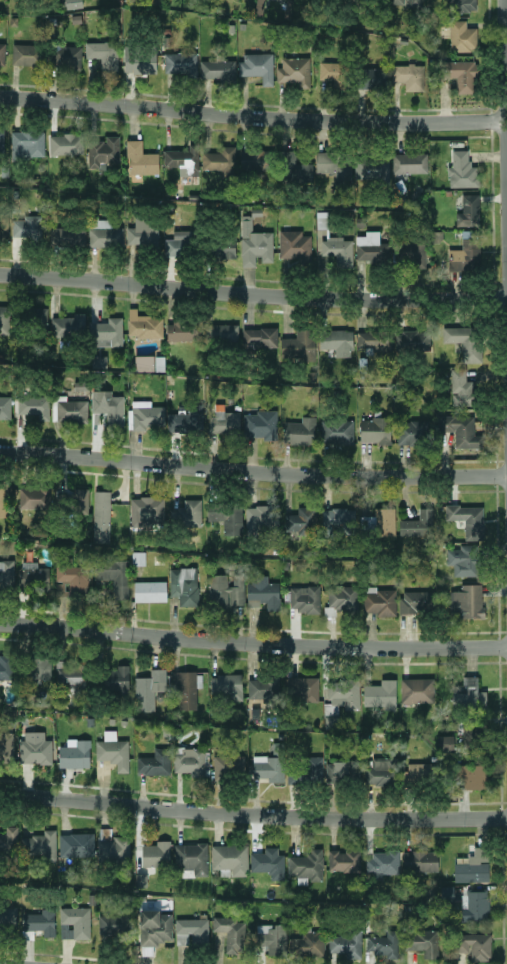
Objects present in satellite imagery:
building: (73, 3)
building: (407, 3)
building: (463, 5)
building: (259, 6)
building: (462, 36)
building: (2, 53)
building: (103, 53)
building: (26, 54)
building: (65, 56)
building: (139, 59)
building: (181, 63)
building: (258, 66)
building: (217, 68)
building: (293, 71)
building: (334, 73)
building: (458, 73)
building: (409, 76)
building: (372, 78)
road: (251, 116)
building: (1, 140)
building: (27, 143)
building: (66, 143)
road: (504, 150)
building: (103, 151)
building: (141, 159)
building: (255, 159)
building: (220, 160)
building: (184, 162)
building: (410, 162)
building: (294, 167)
building: (334, 167)
building: (372, 168)
building: (462, 170)
building: (468, 210)
building: (3, 221)
building: (26, 226)
building: (143, 230)
building: (103, 232)
building: (67, 236)
building: (255, 244)
building: (294, 244)
building: (371, 246)
building: (176, 247)
building: (223, 247)
building: (338, 250)
building: (410, 252)
building: (465, 255)
road: (253, 293)
building: (4, 319)
building: (34, 319)
building: (144, 325)
building: (69, 326)
building: (182, 331)
building: (108, 332)
building: (221, 334)
building: (260, 337)
building: (373, 340)
building: (412, 340)
building: (337, 341)
building: (465, 341)
building: (299, 345)
building: (149, 362)
building: (461, 388)
building: (5, 406)
building: (34, 406)
building: (108, 406)
building: (71, 409)
building: (145, 415)
building: (224, 420)
building: (186, 422)
building: (260, 424)
building: (375, 430)
building: (462, 430)
building: (300, 431)
building: (337, 431)
building: (411, 431)
road: (253, 471)
building: (35, 497)
building: (4, 499)
building: (73, 501)
building: (147, 510)
building: (187, 513)
building: (101, 516)
building: (227, 517)
building: (261, 518)
building: (468, 519)
building: (300, 520)
building: (337, 520)
building: (378, 521)
building: (418, 524)
building: (137, 559)
building: (463, 559)
building: (6, 572)
building: (113, 575)
building: (34, 577)
building: (70, 578)
building: (184, 585)
building: (150, 590)
building: (225, 590)
building: (263, 591)
building: (304, 598)
building: (342, 598)
building: (380, 601)
building: (416, 601)
building: (467, 601)
road: (253, 642)
building: (6, 666)
building: (37, 668)
building: (70, 674)
building: (116, 678)
building: (225, 686)
building: (263, 687)
building: (185, 688)
building: (149, 689)
building: (302, 689)
building: (417, 690)
building: (344, 692)
building: (468, 693)
building: (380, 694)
building: (445, 742)
building: (6, 745)
building: (35, 748)
building: (113, 750)
building: (75, 754)
building: (191, 761)
building: (154, 762)
building: (229, 765)
building: (268, 767)
building: (305, 771)
building: (361, 772)
building: (421, 772)
building: (470, 776)
road: (253, 812)
building: (9, 841)
building: (76, 844)
building: (40, 845)
building: (112, 846)
building: (156, 853)
building: (192, 857)
building: (230, 858)
building: (344, 860)
building: (420, 860)
building: (268, 862)
building: (382, 862)
building: (307, 865)
building: (473, 866)
building: (447, 892)
building: (477, 904)
building: (8, 918)
building: (77, 920)
building: (40, 921)
building: (113, 925)
building: (154, 926)
building: (66, 930)
building: (192, 931)
building: (231, 933)
building: (272, 937)
building: (422, 942)
building: (307, 944)
building: (345, 944)
building: (383, 944)
building: (473, 945)

